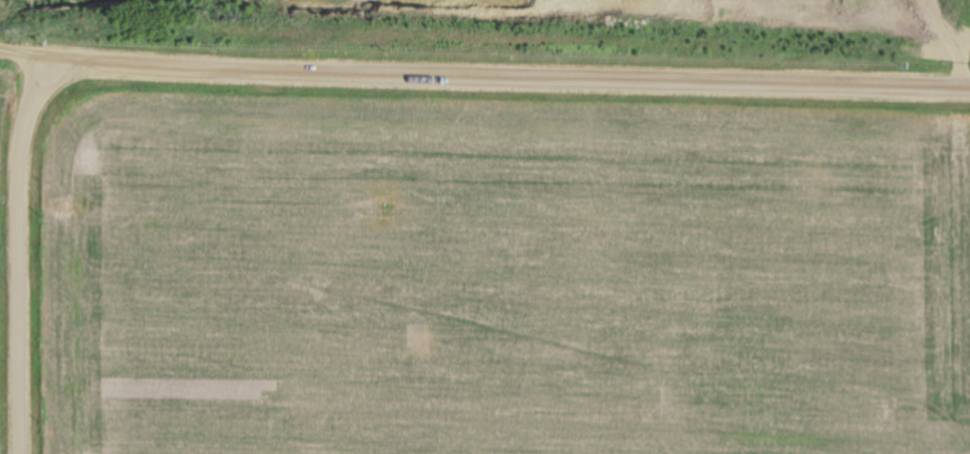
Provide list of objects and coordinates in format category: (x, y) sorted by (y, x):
crop: (969, 25)
quarry: (524, 30)
road: (484, 74)
road: (22, 240)
crop: (3, 302)

